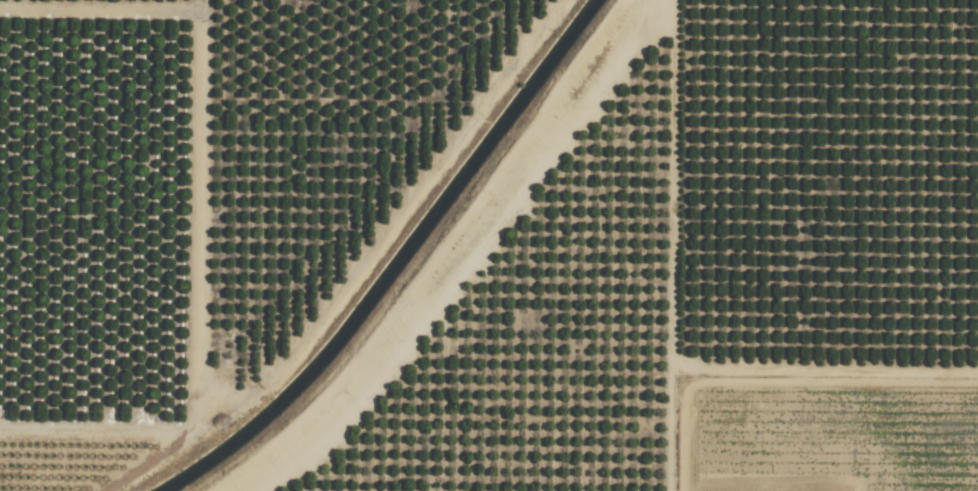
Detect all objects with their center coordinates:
road: (662, 245)

